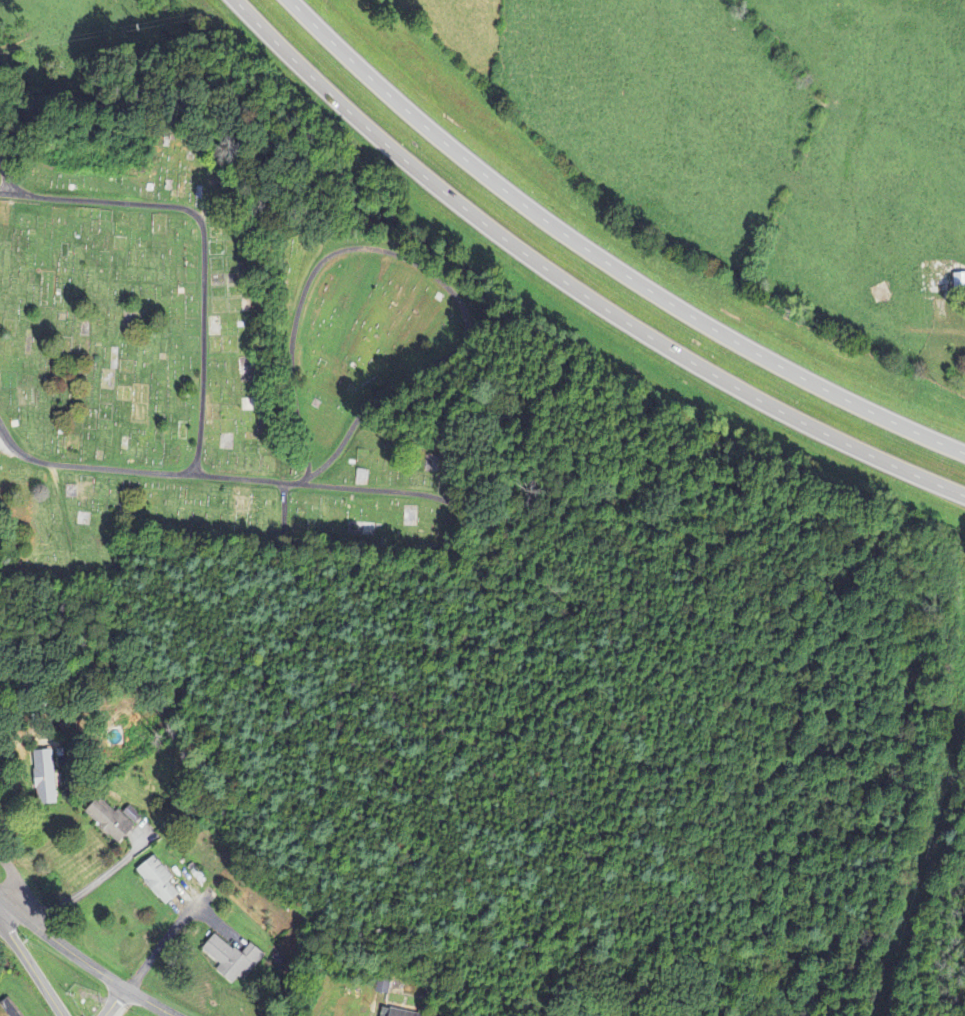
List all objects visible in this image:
road: (18, 193)
road: (605, 259)
road: (574, 284)
building: (960, 285)
road: (203, 338)
park: (222, 364)
road: (328, 488)
building: (112, 821)
road: (11, 879)
building: (161, 882)
road: (62, 942)
road: (26, 959)
building: (232, 959)
road: (152, 1001)
road: (112, 1002)
building: (393, 1013)

